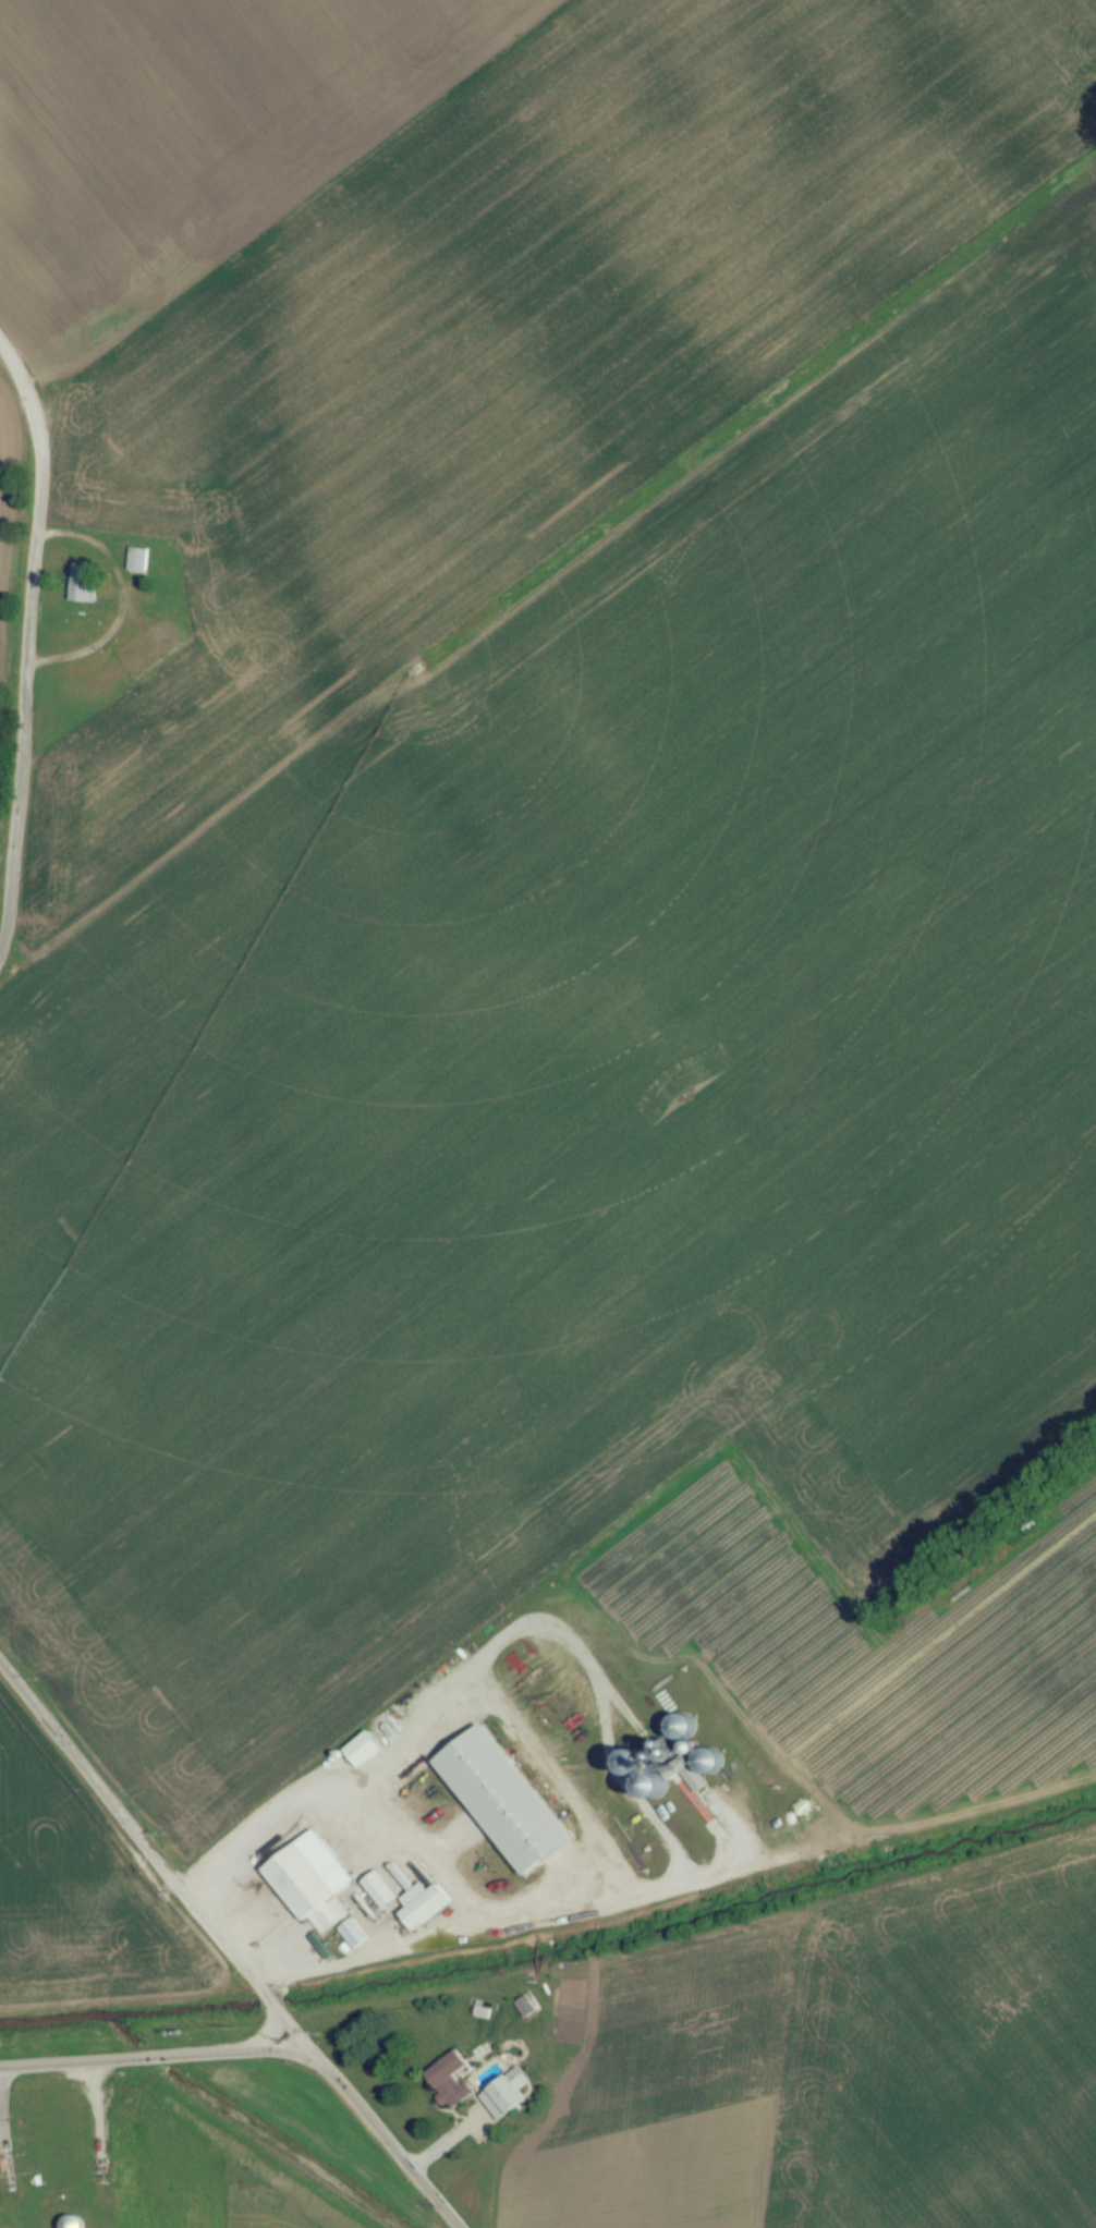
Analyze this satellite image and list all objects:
building: (137, 569)
building: (83, 593)
road: (29, 653)
building: (363, 1757)
road: (557, 1774)
building: (502, 1807)
building: (309, 1888)
building: (380, 1898)
building: (423, 1913)
road: (223, 1950)
building: (524, 2016)
road: (149, 2060)
building: (449, 2089)
building: (507, 2102)
building: (1, 2175)
building: (73, 2226)

